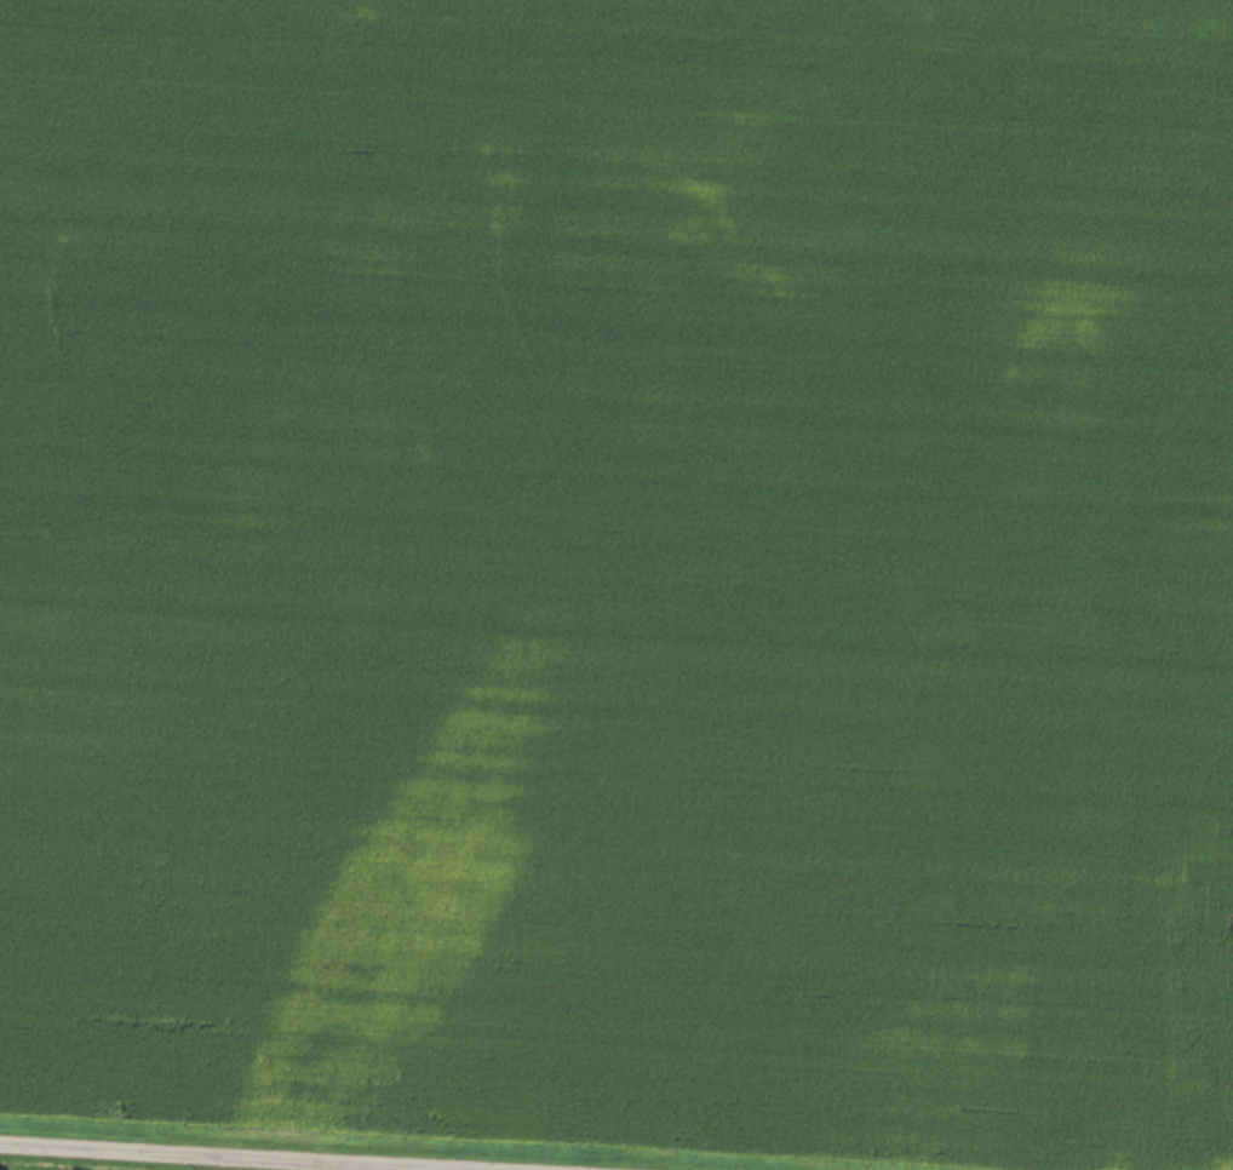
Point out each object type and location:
road: (235, 1158)

